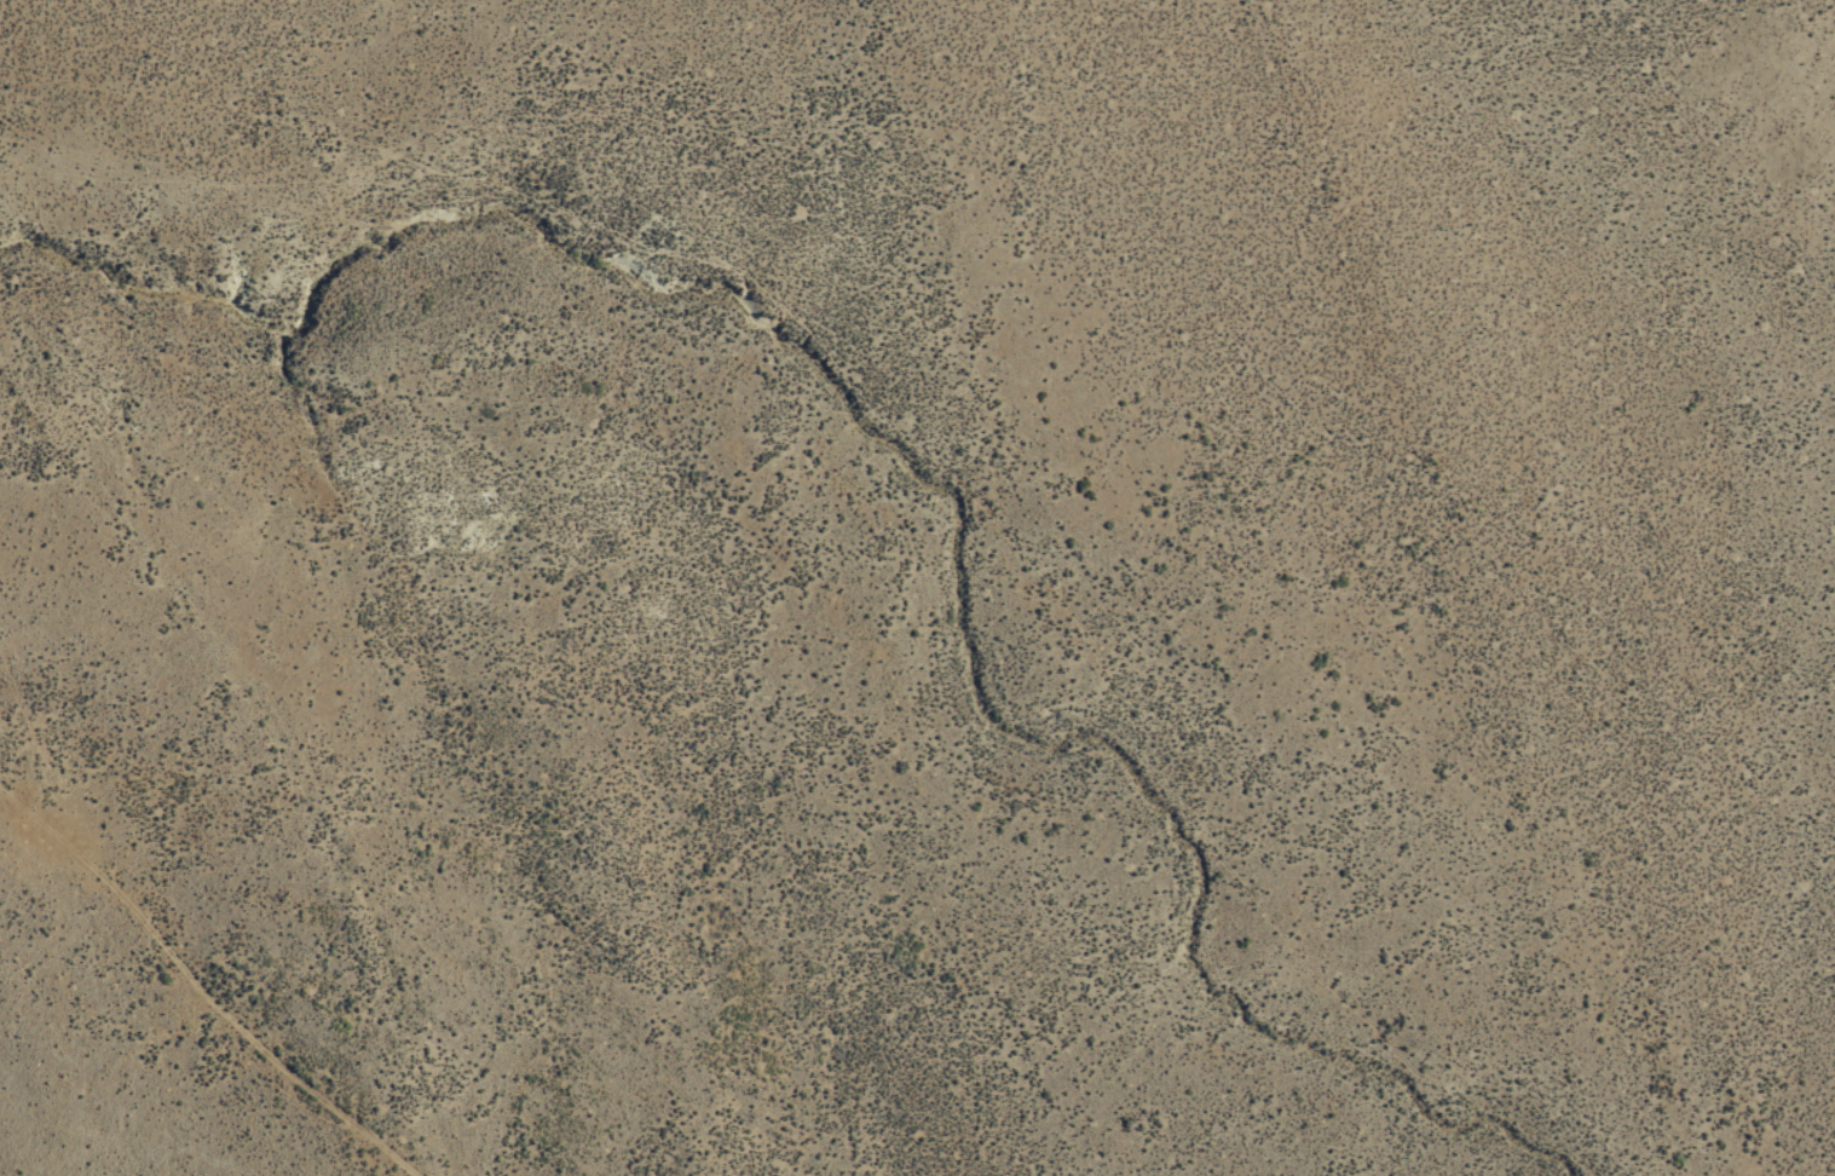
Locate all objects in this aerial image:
crop: (1464, 317)

